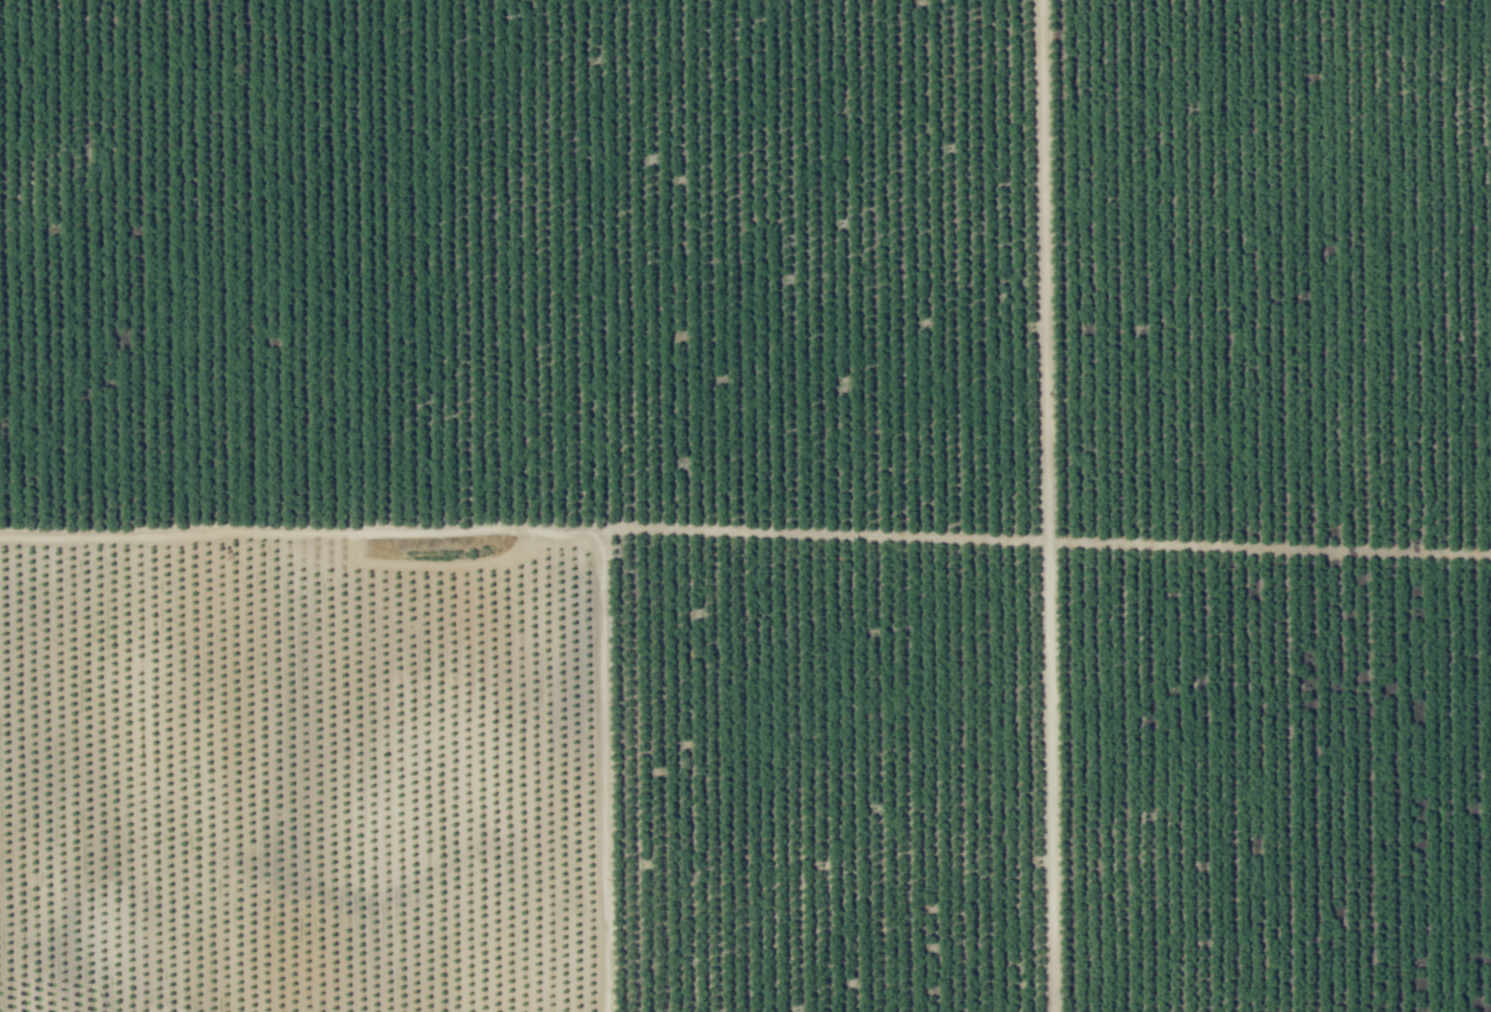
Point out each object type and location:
crop: (745, 506)

